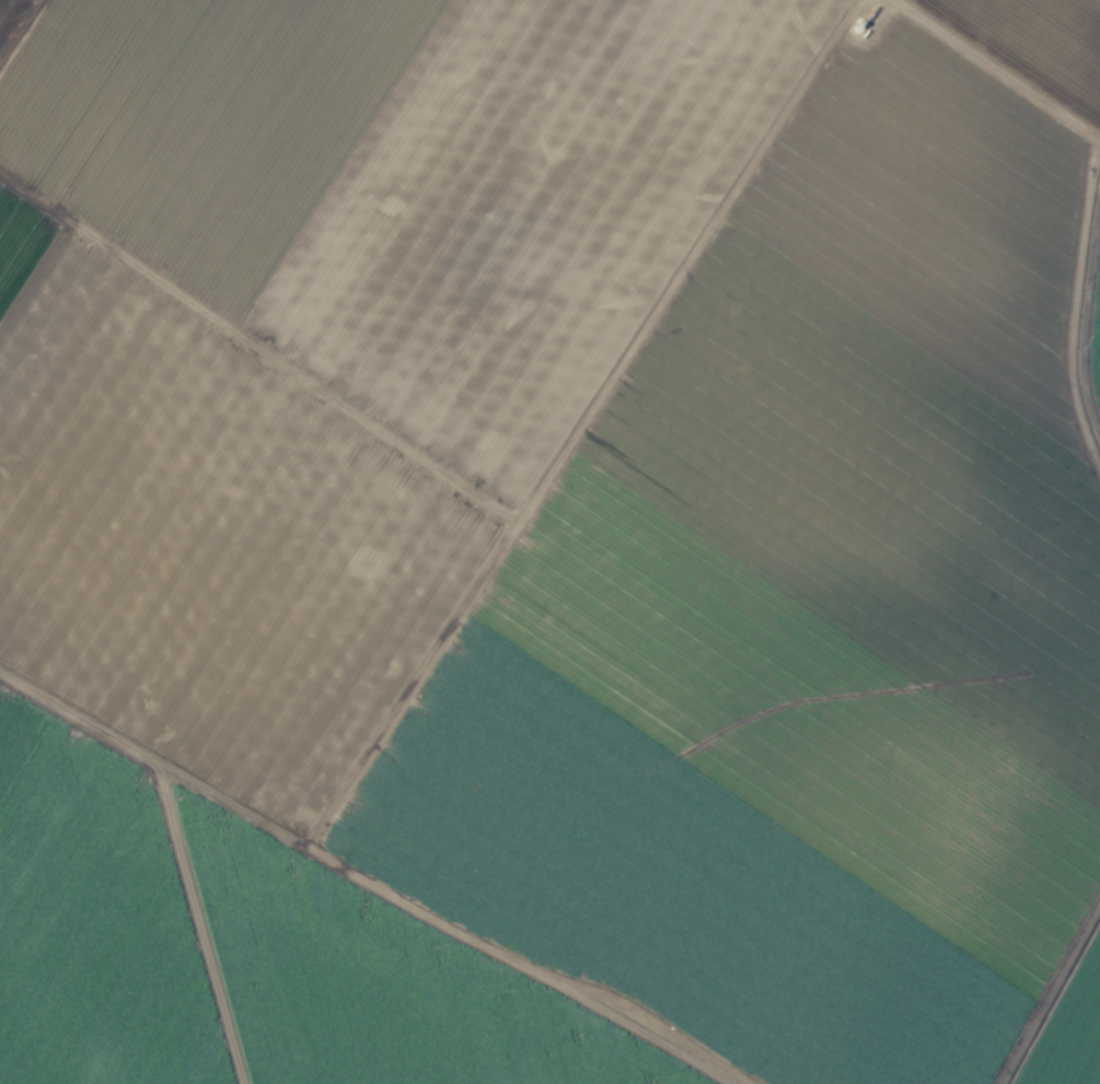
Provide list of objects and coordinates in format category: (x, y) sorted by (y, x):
road: (991, 74)
crop: (549, 541)

